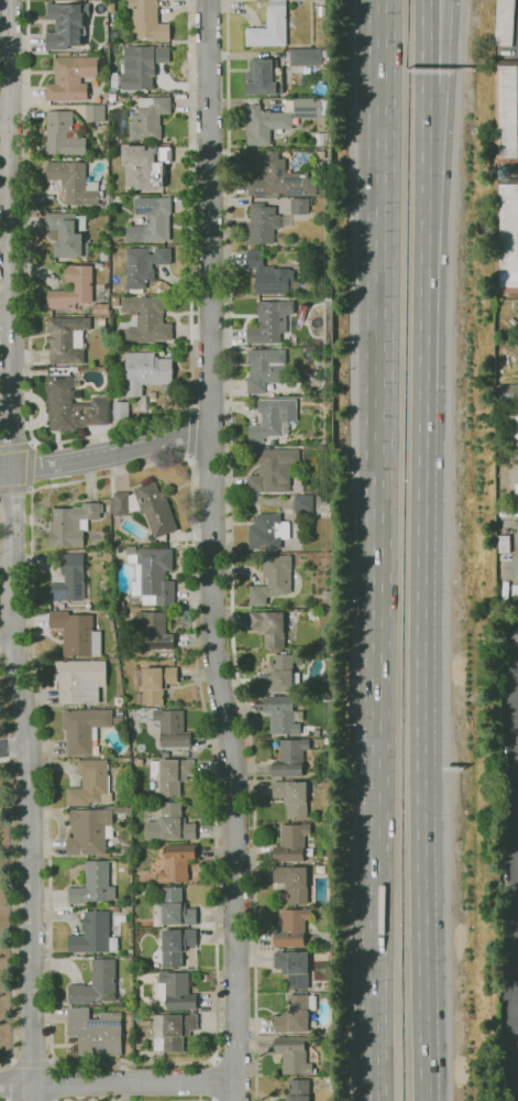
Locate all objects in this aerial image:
building: (320, 12)
building: (147, 21)
building: (504, 23)
building: (66, 25)
building: (269, 26)
road: (447, 43)
building: (307, 56)
road: (426, 64)
building: (141, 66)
building: (323, 68)
building: (70, 78)
building: (263, 78)
building: (295, 79)
building: (113, 81)
building: (111, 98)
building: (114, 106)
road: (434, 107)
building: (308, 108)
building: (505, 112)
building: (93, 113)
building: (148, 118)
building: (264, 124)
building: (62, 135)
building: (321, 139)
building: (110, 149)
building: (146, 165)
building: (311, 168)
building: (276, 177)
building: (74, 183)
building: (310, 203)
road: (189, 205)
building: (101, 206)
building: (298, 206)
road: (209, 214)
building: (150, 220)
building: (261, 224)
building: (67, 235)
road: (9, 236)
building: (506, 236)
building: (103, 257)
road: (425, 258)
building: (98, 265)
building: (143, 266)
building: (267, 275)
building: (81, 287)
building: (114, 302)
road: (29, 307)
building: (100, 309)
building: (146, 320)
building: (269, 321)
building: (101, 323)
building: (66, 339)
building: (264, 369)
building: (103, 372)
building: (145, 372)
building: (329, 385)
building: (506, 393)
building: (70, 403)
building: (142, 405)
road: (210, 407)
building: (120, 410)
building: (272, 418)
building: (513, 432)
road: (189, 434)
building: (326, 437)
road: (14, 449)
road: (110, 456)
road: (209, 456)
road: (30, 468)
building: (272, 471)
road: (4, 472)
road: (15, 489)
building: (301, 504)
building: (145, 508)
building: (71, 524)
building: (266, 532)
building: (503, 544)
road: (382, 549)
road: (230, 550)
building: (151, 576)
building: (272, 579)
building: (69, 580)
building: (324, 586)
building: (121, 603)
building: (268, 629)
building: (153, 631)
building: (76, 633)
road: (7, 642)
building: (279, 676)
building: (79, 680)
building: (152, 684)
building: (119, 712)
building: (282, 716)
building: (114, 722)
building: (84, 729)
building: (172, 729)
building: (326, 742)
road: (420, 744)
road: (13, 748)
road: (509, 751)
building: (289, 759)
road: (230, 764)
building: (170, 775)
building: (90, 784)
road: (30, 785)
building: (290, 798)
building: (135, 804)
building: (169, 825)
building: (89, 831)
building: (290, 842)
building: (125, 849)
building: (177, 862)
road: (10, 877)
building: (291, 882)
building: (92, 884)
building: (175, 908)
building: (114, 909)
building: (291, 928)
building: (93, 935)
building: (176, 946)
building: (293, 968)
building: (95, 984)
building: (176, 991)
building: (295, 1015)
road: (508, 1029)
building: (173, 1031)
building: (93, 1033)
road: (216, 1045)
building: (293, 1055)
road: (234, 1062)
road: (10, 1080)
road: (55, 1080)
road: (213, 1080)
road: (132, 1086)
road: (15, 1087)
building: (332, 1089)
building: (297, 1090)
road: (249, 1100)

